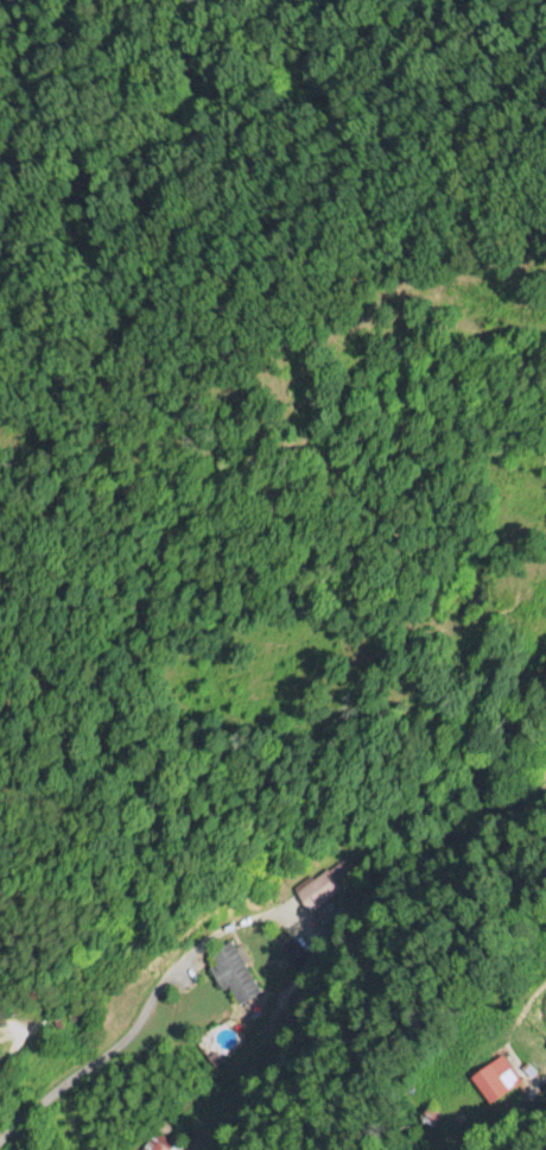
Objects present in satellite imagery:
building: (324, 885)
building: (233, 969)
road: (113, 977)
road: (405, 1050)
building: (496, 1076)
building: (430, 1114)
building: (161, 1142)

